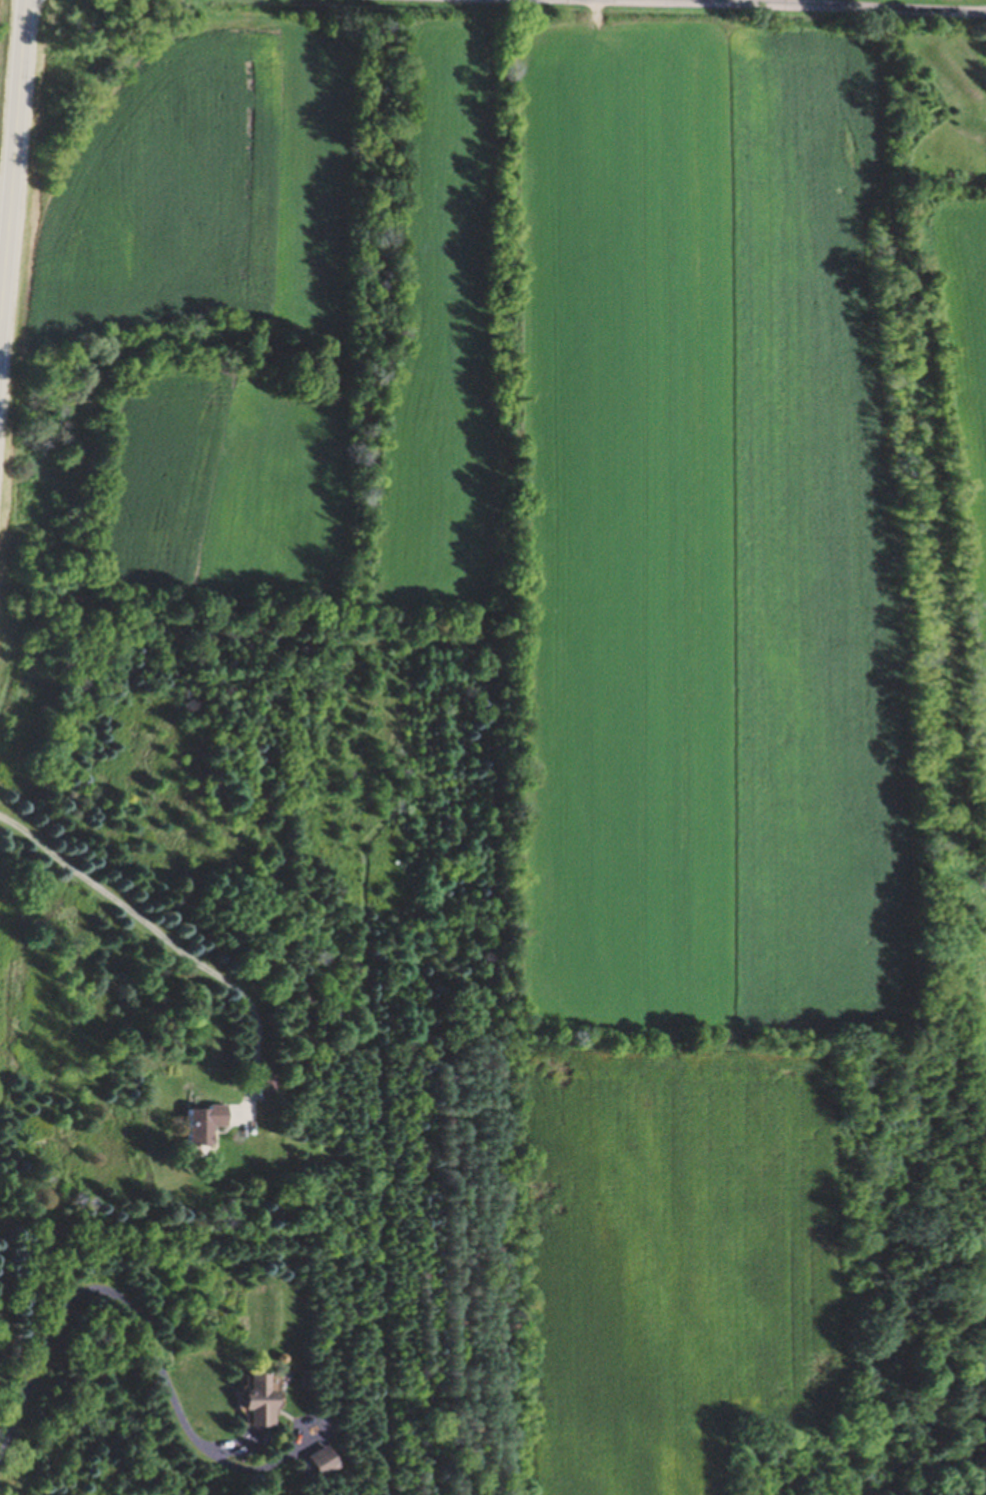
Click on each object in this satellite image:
road: (754, 7)
road: (13, 172)
road: (169, 939)
building: (268, 1086)
building: (201, 1126)
road: (121, 1299)
building: (256, 1403)
road: (290, 1453)
building: (319, 1465)

